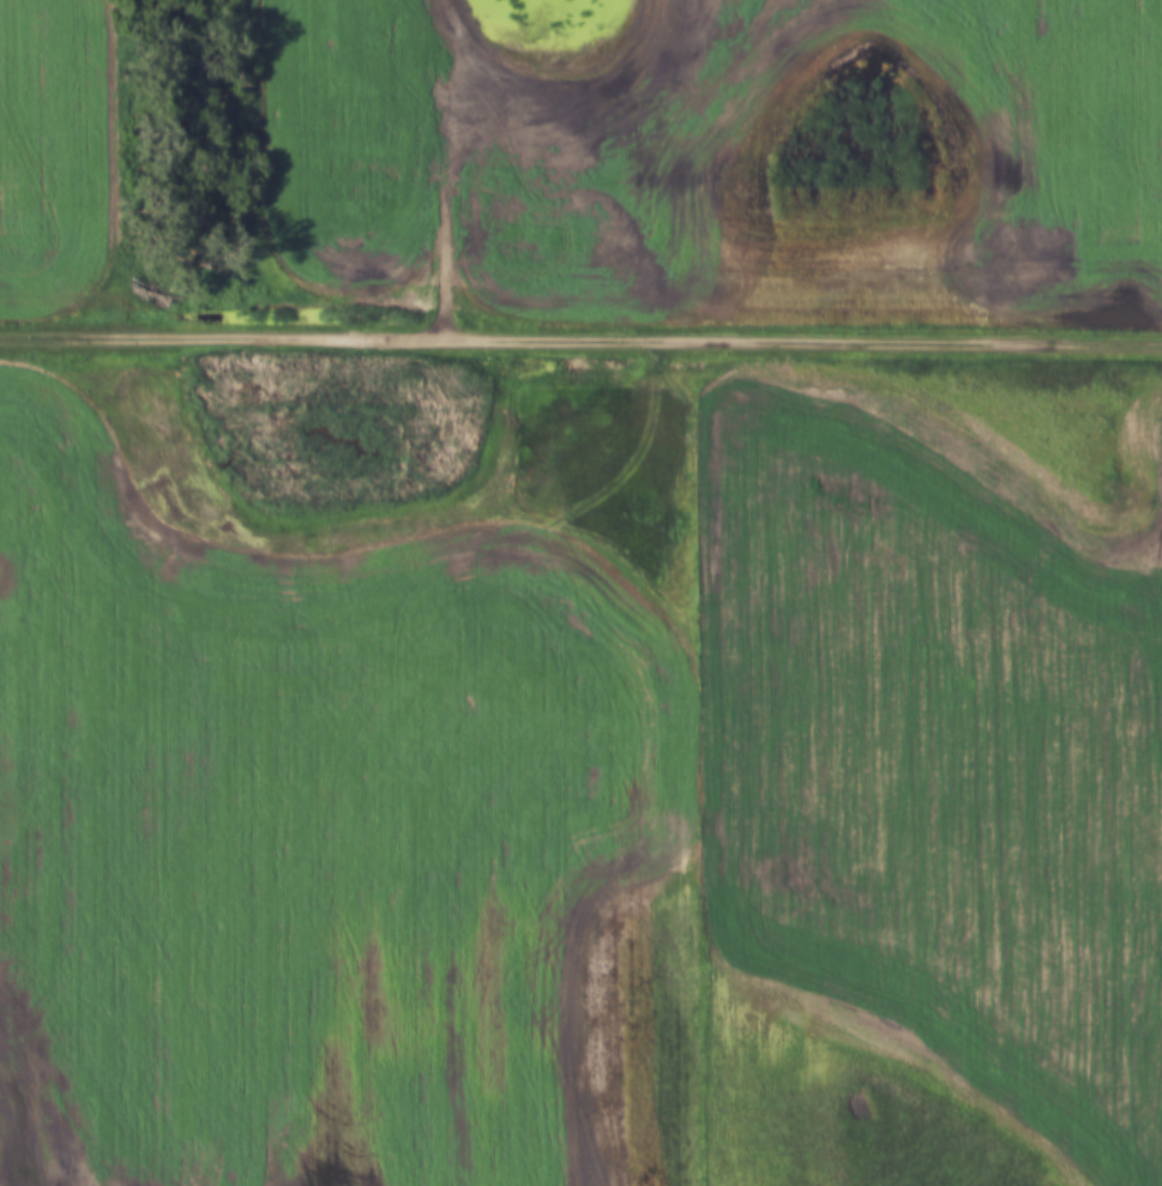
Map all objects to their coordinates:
road: (580, 335)

